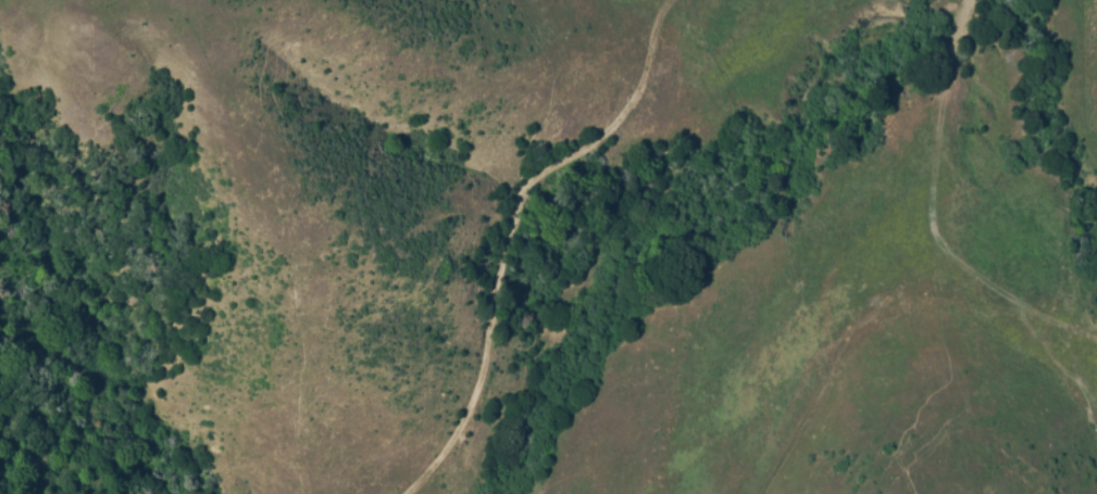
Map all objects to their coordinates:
road: (939, 213)

